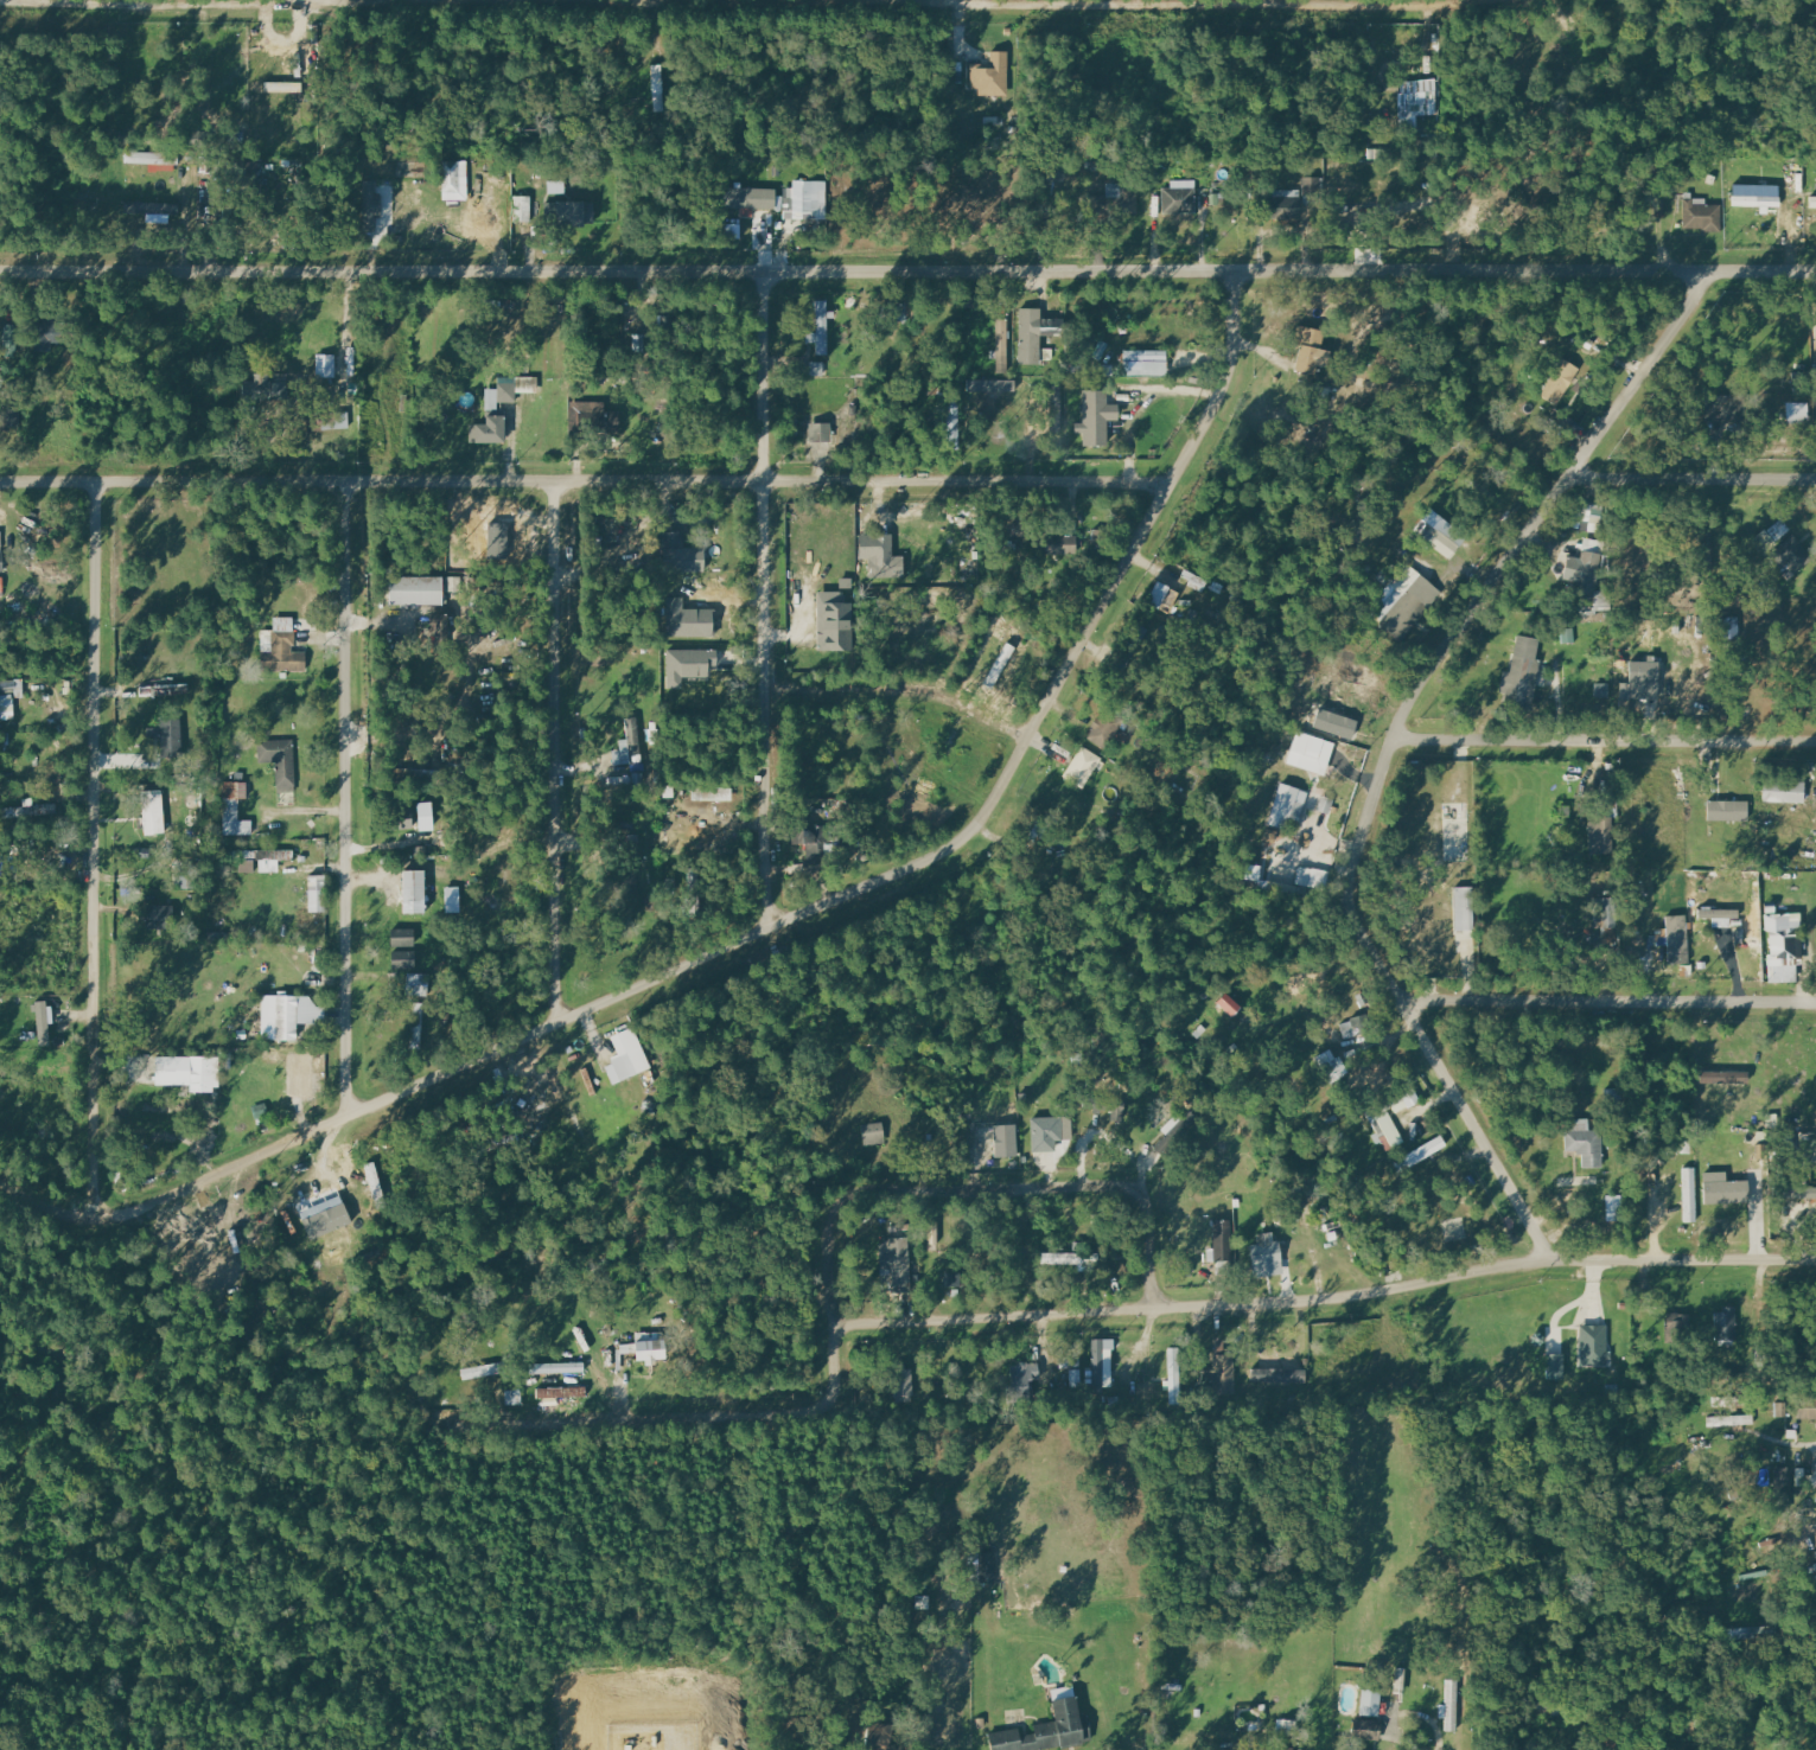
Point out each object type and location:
road: (310, 0)
road: (1273, 0)
road: (631, 1)
road: (951, 2)
road: (745, 4)
building: (993, 75)
building: (658, 88)
building: (1417, 101)
building: (152, 158)
building: (455, 180)
building: (1119, 197)
building: (1180, 198)
building: (807, 200)
building: (1288, 202)
building: (1814, 203)
building: (370, 206)
building: (1661, 207)
building: (522, 210)
building: (574, 213)
building: (1702, 215)
road: (907, 272)
building: (899, 313)
building: (821, 328)
building: (44, 337)
building: (8, 339)
building: (1002, 346)
building: (1308, 350)
building: (1146, 363)
building: (325, 366)
building: (817, 369)
building: (1561, 382)
building: (265, 388)
building: (510, 390)
road: (1141, 401)
building: (1056, 408)
building: (1722, 409)
building: (592, 415)
building: (1096, 417)
building: (954, 422)
building: (489, 430)
building: (820, 433)
road: (1693, 475)
road: (585, 479)
building: (1438, 536)
building: (1060, 544)
building: (1790, 553)
building: (680, 555)
building: (885, 560)
building: (1586, 561)
building: (1, 562)
building: (1, 585)
building: (415, 590)
road: (765, 601)
building: (1409, 605)
building: (688, 620)
building: (834, 621)
building: (1731, 627)
building: (281, 647)
building: (692, 664)
building: (1000, 665)
building: (1523, 670)
building: (1646, 677)
road: (905, 689)
building: (164, 690)
building: (7, 700)
building: (1108, 730)
building: (159, 740)
road: (1605, 740)
building: (630, 745)
road: (1394, 745)
building: (1312, 748)
road: (554, 751)
building: (280, 761)
building: (1084, 768)
building: (712, 794)
road: (346, 799)
building: (1326, 805)
building: (1287, 806)
building: (1791, 806)
building: (32, 810)
building: (235, 810)
building: (1728, 811)
building: (153, 812)
building: (425, 817)
building: (401, 820)
building: (1270, 836)
building: (1601, 837)
building: (630, 839)
road: (95, 851)
building: (265, 861)
building: (1319, 879)
building: (1266, 883)
building: (413, 893)
building: (317, 894)
building: (453, 900)
building: (1464, 909)
building: (1605, 912)
building: (1720, 916)
building: (160, 918)
road: (777, 924)
building: (1675, 939)
building: (1784, 939)
building: (402, 949)
building: (418, 984)
road: (1611, 999)
building: (288, 1014)
building: (418, 1024)
building: (626, 1055)
building: (289, 1060)
building: (1332, 1066)
building: (185, 1072)
building: (1116, 1110)
building: (1046, 1133)
building: (1006, 1141)
building: (1585, 1142)
building: (1725, 1190)
building: (1690, 1194)
building: (1801, 1195)
road: (840, 1201)
building: (326, 1220)
building: (1221, 1239)
building: (1267, 1254)
building: (1071, 1258)
building: (896, 1263)
road: (1327, 1301)
building: (1726, 1324)
building: (1594, 1346)
building: (651, 1348)
building: (1102, 1363)
building: (1555, 1366)
building: (557, 1367)
building: (1223, 1367)
building: (480, 1372)
building: (1174, 1375)
building: (905, 1384)
building: (561, 1392)
building: (1807, 1407)
building: (1783, 1410)
building: (1731, 1420)
building: (1814, 1474)
building: (1782, 1481)
building: (985, 1569)
building: (1371, 1703)
building: (1366, 1729)
building: (1046, 1730)
building: (877, 1736)
road: (1407, 1739)

